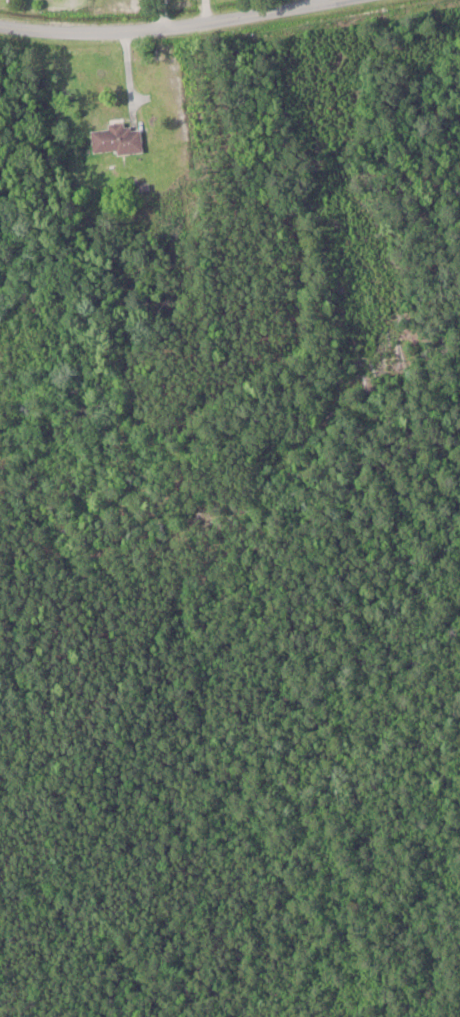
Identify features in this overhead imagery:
road: (160, 14)
road: (171, 27)
road: (125, 79)
building: (118, 137)

